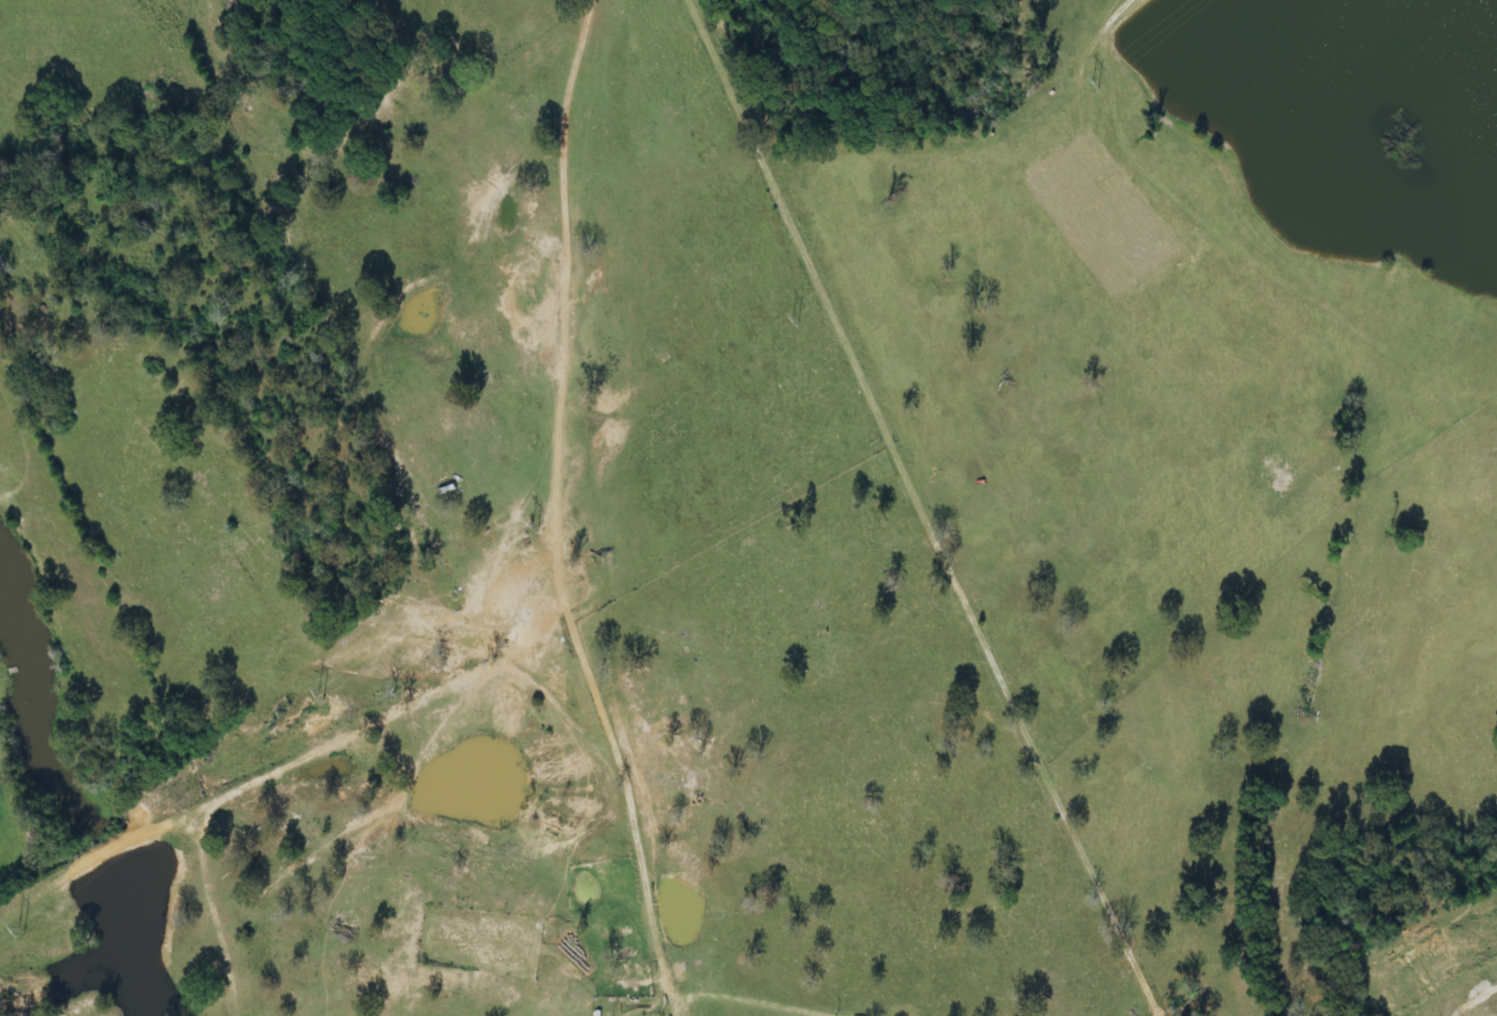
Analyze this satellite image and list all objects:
power tower: (1084, 77)
power tower: (789, 315)
power tower: (528, 518)
power tower: (312, 687)
power tower: (19, 924)

